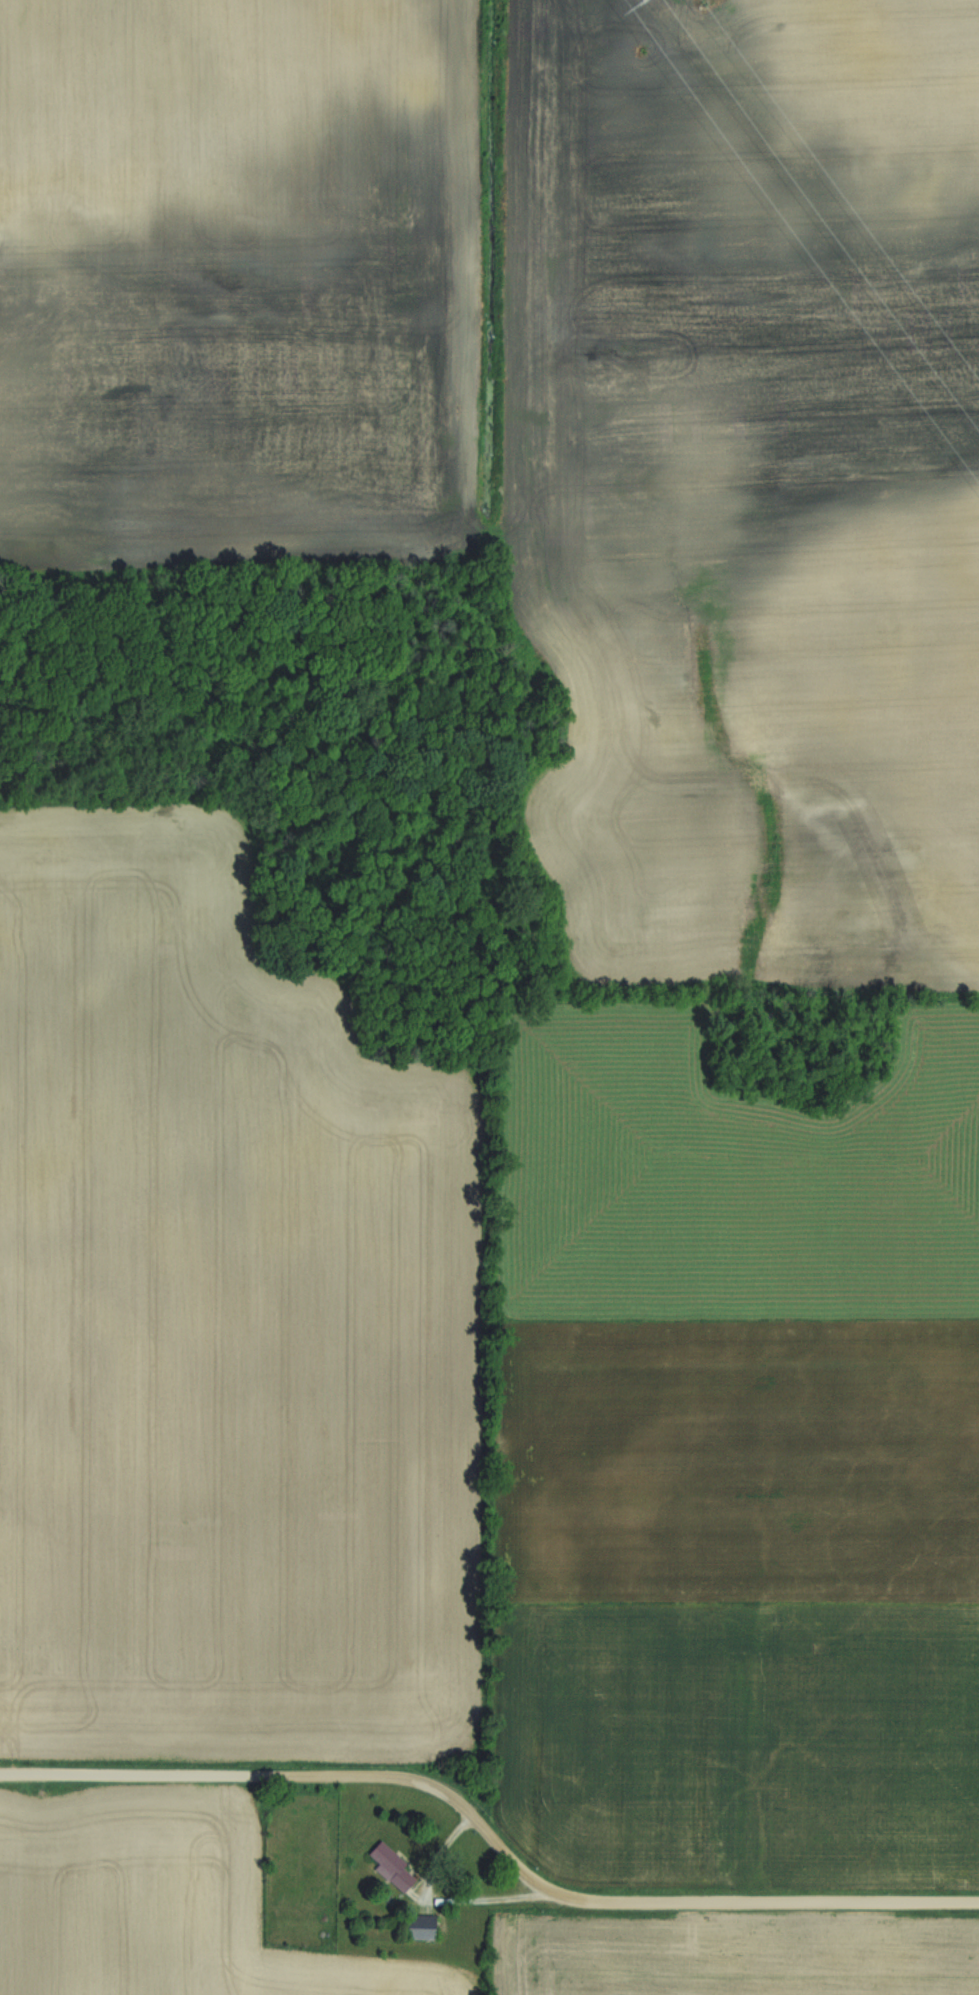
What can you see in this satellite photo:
road: (491, 1836)
building: (395, 1866)
road: (445, 1899)
building: (420, 1927)

